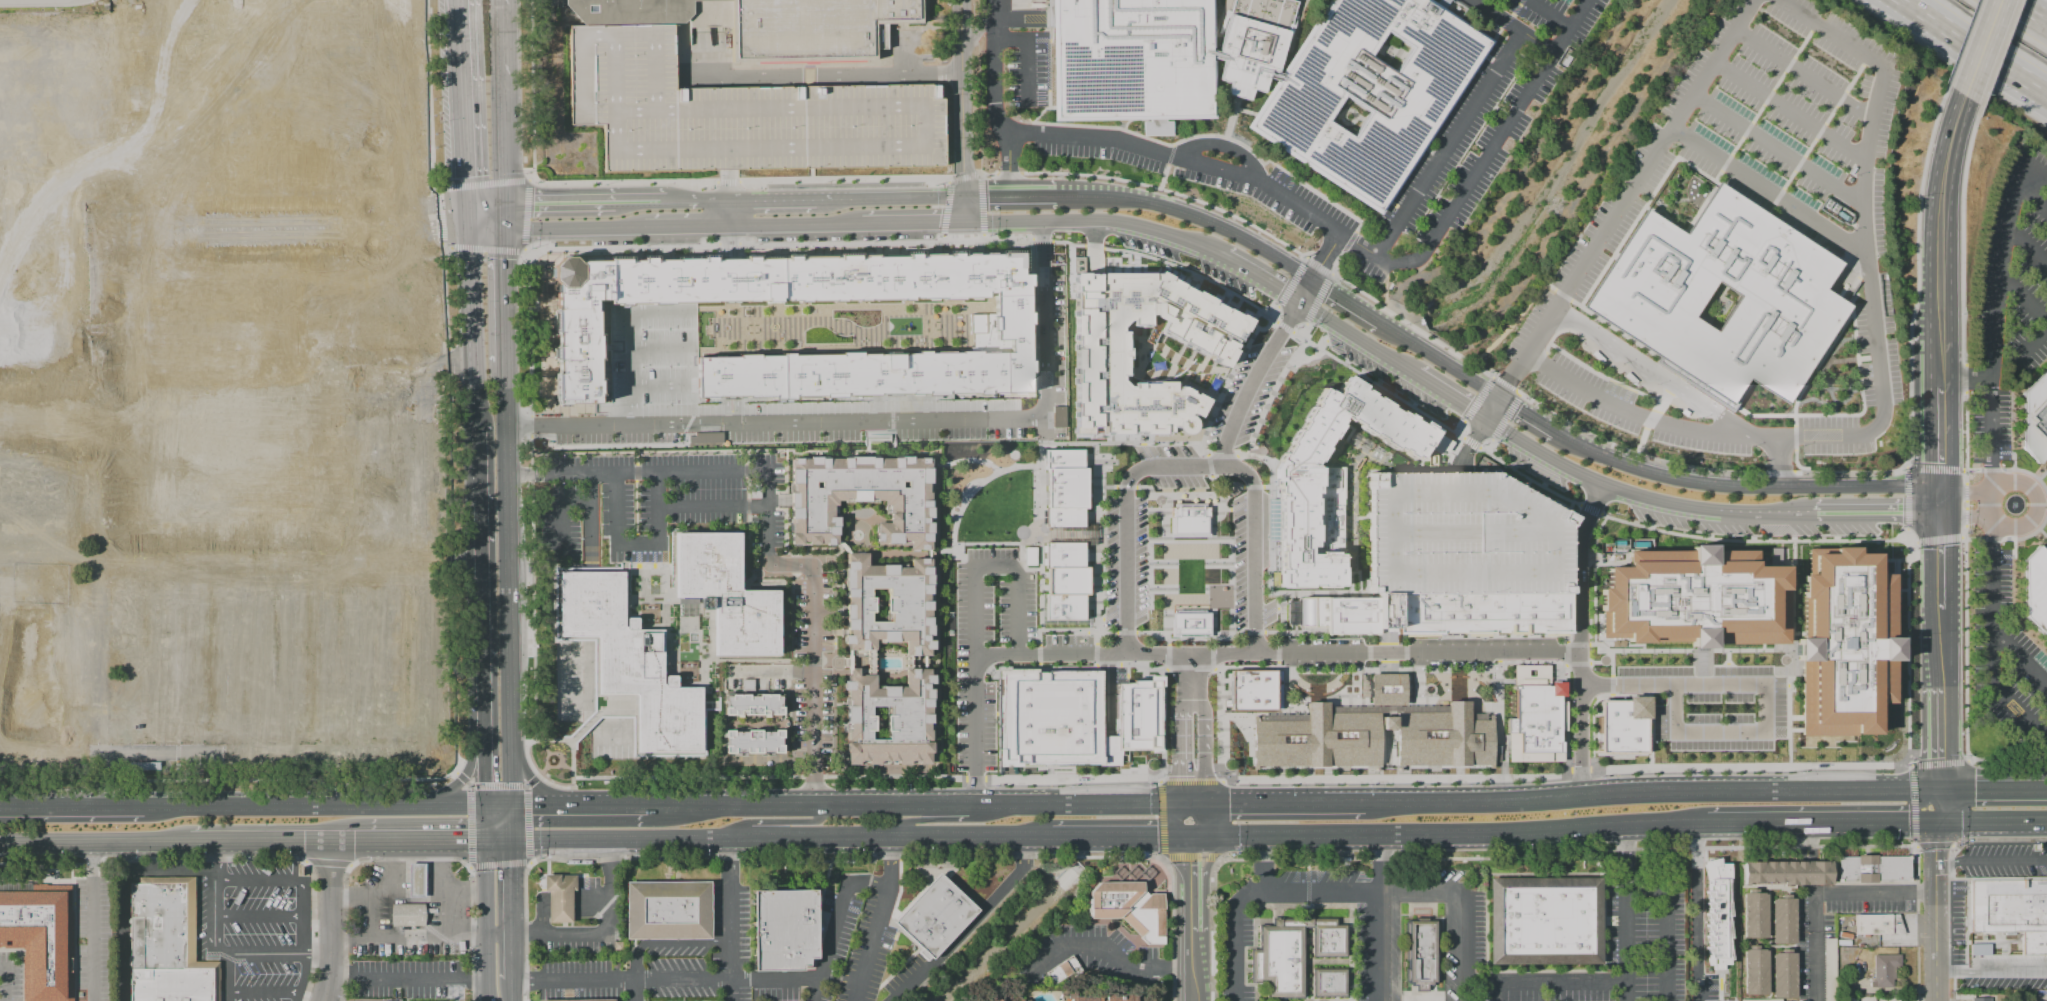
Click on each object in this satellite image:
road: (455, 12)
building: (650, 12)
road: (1548, 13)
road: (2026, 13)
building: (33, 22)
road: (1512, 26)
building: (815, 29)
road: (981, 38)
road: (1963, 42)
building: (710, 43)
building: (1254, 43)
road: (1975, 46)
road: (1981, 47)
building: (727, 48)
road: (711, 52)
road: (1999, 52)
road: (1026, 55)
building: (923, 56)
road: (907, 60)
building: (1133, 61)
road: (995, 69)
road: (1804, 74)
road: (818, 75)
building: (1369, 90)
road: (427, 95)
road: (1878, 96)
road: (500, 101)
road: (1764, 101)
road: (963, 110)
road: (1790, 110)
road: (460, 113)
building: (743, 115)
parking lot: (743, 115)
parking lot: (1476, 129)
road: (1816, 135)
road: (1447, 142)
road: (1777, 149)
building: (132, 162)
road: (1008, 165)
road: (1281, 168)
road: (2038, 169)
road: (1007, 173)
road: (987, 175)
road: (531, 177)
road: (964, 177)
road: (536, 179)
road: (844, 179)
road: (1751, 179)
road: (727, 182)
road: (483, 183)
road: (1632, 185)
road: (1169, 191)
road: (1009, 195)
road: (905, 197)
traffic signals: (965, 197)
road: (2033, 197)
parking lot: (1753, 198)
road: (830, 199)
road: (771, 200)
road: (638, 201)
road: (697, 201)
road: (556, 202)
road: (483, 203)
traffic signals: (501, 203)
traffic signals: (465, 204)
road: (440, 205)
road: (981, 206)
building: (1836, 211)
road: (945, 212)
road: (729, 213)
road: (1189, 214)
road: (525, 215)
road: (440, 216)
road: (500, 216)
road: (1938, 216)
road: (466, 218)
road: (1098, 220)
road: (912, 221)
traffic signals: (965, 221)
road: (795, 223)
road: (687, 225)
road: (572, 227)
traffic signals: (500, 230)
road: (483, 231)
road: (442, 233)
traffic signals: (467, 233)
road: (1961, 233)
road: (1041, 239)
road: (1348, 242)
road: (1848, 242)
road: (1358, 243)
road: (1084, 245)
road: (699, 246)
road: (2027, 247)
road: (483, 248)
road: (526, 254)
road: (1160, 260)
road: (1336, 261)
road: (1866, 262)
building: (260, 264)
road: (1317, 266)
road: (1332, 273)
road: (1917, 274)
road: (1263, 278)
traffic signals: (1311, 280)
road: (1291, 282)
road: (1559, 292)
road: (1384, 293)
road: (501, 295)
road: (1317, 298)
building: (1642, 299)
road: (2024, 300)
traffic signals: (1299, 301)
road: (1039, 304)
road: (1259, 312)
road: (1359, 312)
road: (1271, 315)
road: (1269, 317)
building: (814, 324)
road: (1510, 324)
road: (1996, 325)
road: (1284, 326)
road: (1412, 326)
road: (1301, 329)
road: (471, 330)
road: (1298, 336)
road: (1357, 337)
road: (632, 338)
road: (1875, 339)
road: (1307, 342)
road: (1040, 344)
building: (1098, 345)
road: (1272, 345)
road: (662, 347)
parking lot: (863, 348)
road: (2019, 351)
road: (1539, 358)
road: (442, 363)
road: (458, 365)
road: (1938, 368)
road: (1451, 371)
road: (1649, 372)
road: (1964, 377)
road: (1508, 378)
road: (1963, 378)
road: (1040, 383)
road: (663, 385)
road: (1505, 386)
road: (1390, 392)
road: (1449, 396)
road: (1478, 398)
traffic signals: (1496, 399)
road: (886, 407)
road: (738, 410)
road: (1630, 411)
road: (1505, 415)
building: (1058, 416)
road: (1524, 416)
road: (1651, 416)
road: (872, 417)
building: (2035, 417)
traffic signals: (1485, 418)
road: (1880, 420)
building: (76, 422)
road: (442, 422)
road: (530, 425)
road: (1039, 426)
road: (1460, 427)
road: (1479, 427)
road: (1834, 434)
road: (875, 435)
building: (704, 437)
road: (1762, 437)
road: (1787, 437)
road: (1794, 437)
road: (1964, 438)
road: (1938, 442)
road: (1471, 443)
road: (1488, 444)
road: (901, 454)
road: (1040, 455)
road: (967, 458)
road: (1778, 462)
road: (1191, 465)
road: (477, 467)
road: (1932, 467)
road: (1704, 468)
road: (1992, 469)
road: (1970, 470)
road: (2030, 474)
road: (2042, 474)
road: (1527, 478)
building: (1328, 479)
building: (1061, 485)
road: (1741, 486)
traffic signals: (1938, 489)
road: (968, 491)
road: (1965, 492)
road: (1641, 496)
building: (861, 497)
road: (1906, 498)
road: (1938, 501)
fountain: (2013, 504)
road: (710, 505)
road: (1965, 506)
road: (1590, 509)
road: (559, 512)
road: (590, 512)
road: (1876, 513)
traffic signals: (1938, 513)
road: (1964, 514)
building: (1188, 517)
road: (1999, 524)
road: (767, 528)
road: (1070, 531)
road: (1964, 532)
road: (2031, 532)
road: (2042, 532)
parking lot: (1461, 536)
road: (1906, 536)
road: (1962, 537)
road: (1972, 538)
road: (1937, 539)
road: (1992, 539)
road: (1751, 540)
road: (1911, 541)
road: (635, 544)
road: (1099, 550)
road: (1938, 560)
road: (994, 565)
parking lot: (1127, 568)
road: (452, 571)
building: (1061, 578)
road: (507, 583)
building: (2035, 588)
building: (725, 594)
building: (1695, 598)
road: (522, 604)
building: (889, 604)
building: (1481, 612)
building: (1348, 613)
road: (480, 624)
building: (1189, 624)
road: (1990, 635)
road: (1580, 637)
parking lot: (999, 641)
building: (1845, 643)
road: (1938, 647)
road: (1201, 655)
road: (2021, 659)
building: (28, 660)
building: (629, 666)
road: (1191, 669)
road: (770, 670)
parking lot: (812, 676)
road: (1762, 684)
building: (1251, 687)
building: (1388, 687)
parking lot: (1714, 696)
building: (753, 705)
building: (1136, 716)
building: (1536, 717)
building: (1050, 718)
building: (1622, 719)
building: (889, 720)
building: (1442, 733)
building: (1317, 737)
road: (1937, 738)
building: (753, 741)
road: (1181, 742)
road: (1205, 742)
building: (1689, 756)
building: (1725, 756)
building: (1766, 757)
road: (455, 771)
traffic signals: (1185, 775)
road: (464, 776)
road: (461, 777)
road: (358, 778)
road: (530, 779)
road: (532, 780)
road: (468, 785)
road: (471, 786)
road: (497, 786)
road: (523, 786)
road: (525, 786)
road: (1907, 789)
traffic signals: (1936, 789)
road: (1964, 789)
road: (2019, 789)
road: (484, 791)
road: (1620, 793)
road: (1172, 803)
road: (1211, 803)
traffic signals: (1230, 803)
road: (1296, 803)
road: (577, 804)
traffic signals: (484, 805)
road: (497, 805)
traffic signals: (511, 805)
road: (897, 805)
road: (1936, 805)
road: (312, 806)
road: (70, 807)
road: (1165, 807)
road: (1217, 807)
road: (1913, 808)
road: (1199, 809)
road: (1184, 811)
road: (944, 818)
road: (1991, 820)
road: (1832, 821)
road: (1910, 821)
traffic signals: (1936, 821)
road: (511, 822)
road: (1743, 822)
road: (778, 823)
road: (1161, 824)
road: (527, 825)
road: (1198, 825)
road: (1220, 826)
road: (469, 827)
road: (1165, 827)
road: (1182, 827)
road: (1485, 831)
road: (1102, 834)
road: (1249, 834)
traffic signals: (1155, 835)
road: (1172, 835)
road: (1213, 835)
road: (781, 837)
road: (498, 839)
traffic signals: (512, 839)
road: (260, 840)
road: (350, 840)
road: (426, 840)
traffic signals: (484, 840)
road: (94, 841)
road: (1936, 841)
parking lot: (2004, 857)
road: (1992, 860)
road: (1263, 861)
road: (1208, 862)
road: (499, 863)
road: (530, 863)
traffic signals: (1190, 864)
road: (468, 867)
road: (1190, 867)
building: (1870, 868)
road: (168, 872)
building: (1788, 872)
road: (1990, 877)
road: (277, 880)
building: (417, 880)
gas station: (417, 880)
road: (512, 887)
road: (382, 889)
road: (442, 889)
road: (1414, 893)
road: (1667, 894)
road: (1824, 894)
building: (560, 896)
road: (561, 903)
road: (590, 904)
building: (1130, 908)
building: (2012, 909)
building: (668, 910)
road: (840, 911)
road: (1695, 911)
building: (1716, 911)
building: (408, 915)
road: (540, 915)
road: (1192, 915)
building: (1754, 915)
road: (259, 916)
building: (935, 917)
road: (1380, 917)
road: (878, 918)
road: (375, 919)
road: (731, 919)
road: (485, 920)
building: (1783, 920)
road: (90, 921)
road: (123, 921)
road: (332, 921)
building: (1545, 921)
building: (1875, 922)
road: (214, 925)
road: (1969, 925)
road: (969, 926)
parking lot: (253, 928)
building: (785, 929)
road: (525, 931)
road: (1936, 931)
road: (469, 934)
road: (608, 934)
building: (40, 937)
road: (1236, 937)
building: (1327, 937)
road: (423, 938)
parking lot: (94, 939)
road: (1991, 940)
road: (1192, 942)
road: (1627, 942)
building: (166, 943)
road: (668, 943)
building: (618, 946)
building: (1980, 948)
road: (279, 954)
building: (1422, 954)
road: (1112, 955)
road: (512, 958)
road: (305, 959)
building: (1280, 959)
building: (1065, 969)
building: (1829, 969)
building: (1884, 969)
building: (1755, 970)
road: (1991, 972)
building: (1783, 974)
parking lot: (9, 976)
road: (477, 976)
road: (1192, 977)
road: (409, 978)
road: (665, 978)
road: (341, 979)
road: (1544, 979)
building: (1329, 982)
building: (1845, 982)
road: (5, 984)
road: (816, 989)
road: (633, 990)
road: (511, 991)
road: (263, 992)
building: (1122, 997)
building: (1848, 998)
road: (328, 999)
building: (996, 999)
building: (1086, 999)
building: (1411, 999)
building: (1435, 999)
building: (1980, 999)
building: (580, 1000)
building: (1021, 1000)
building: (1027, 1000)
building: (1760, 1000)

